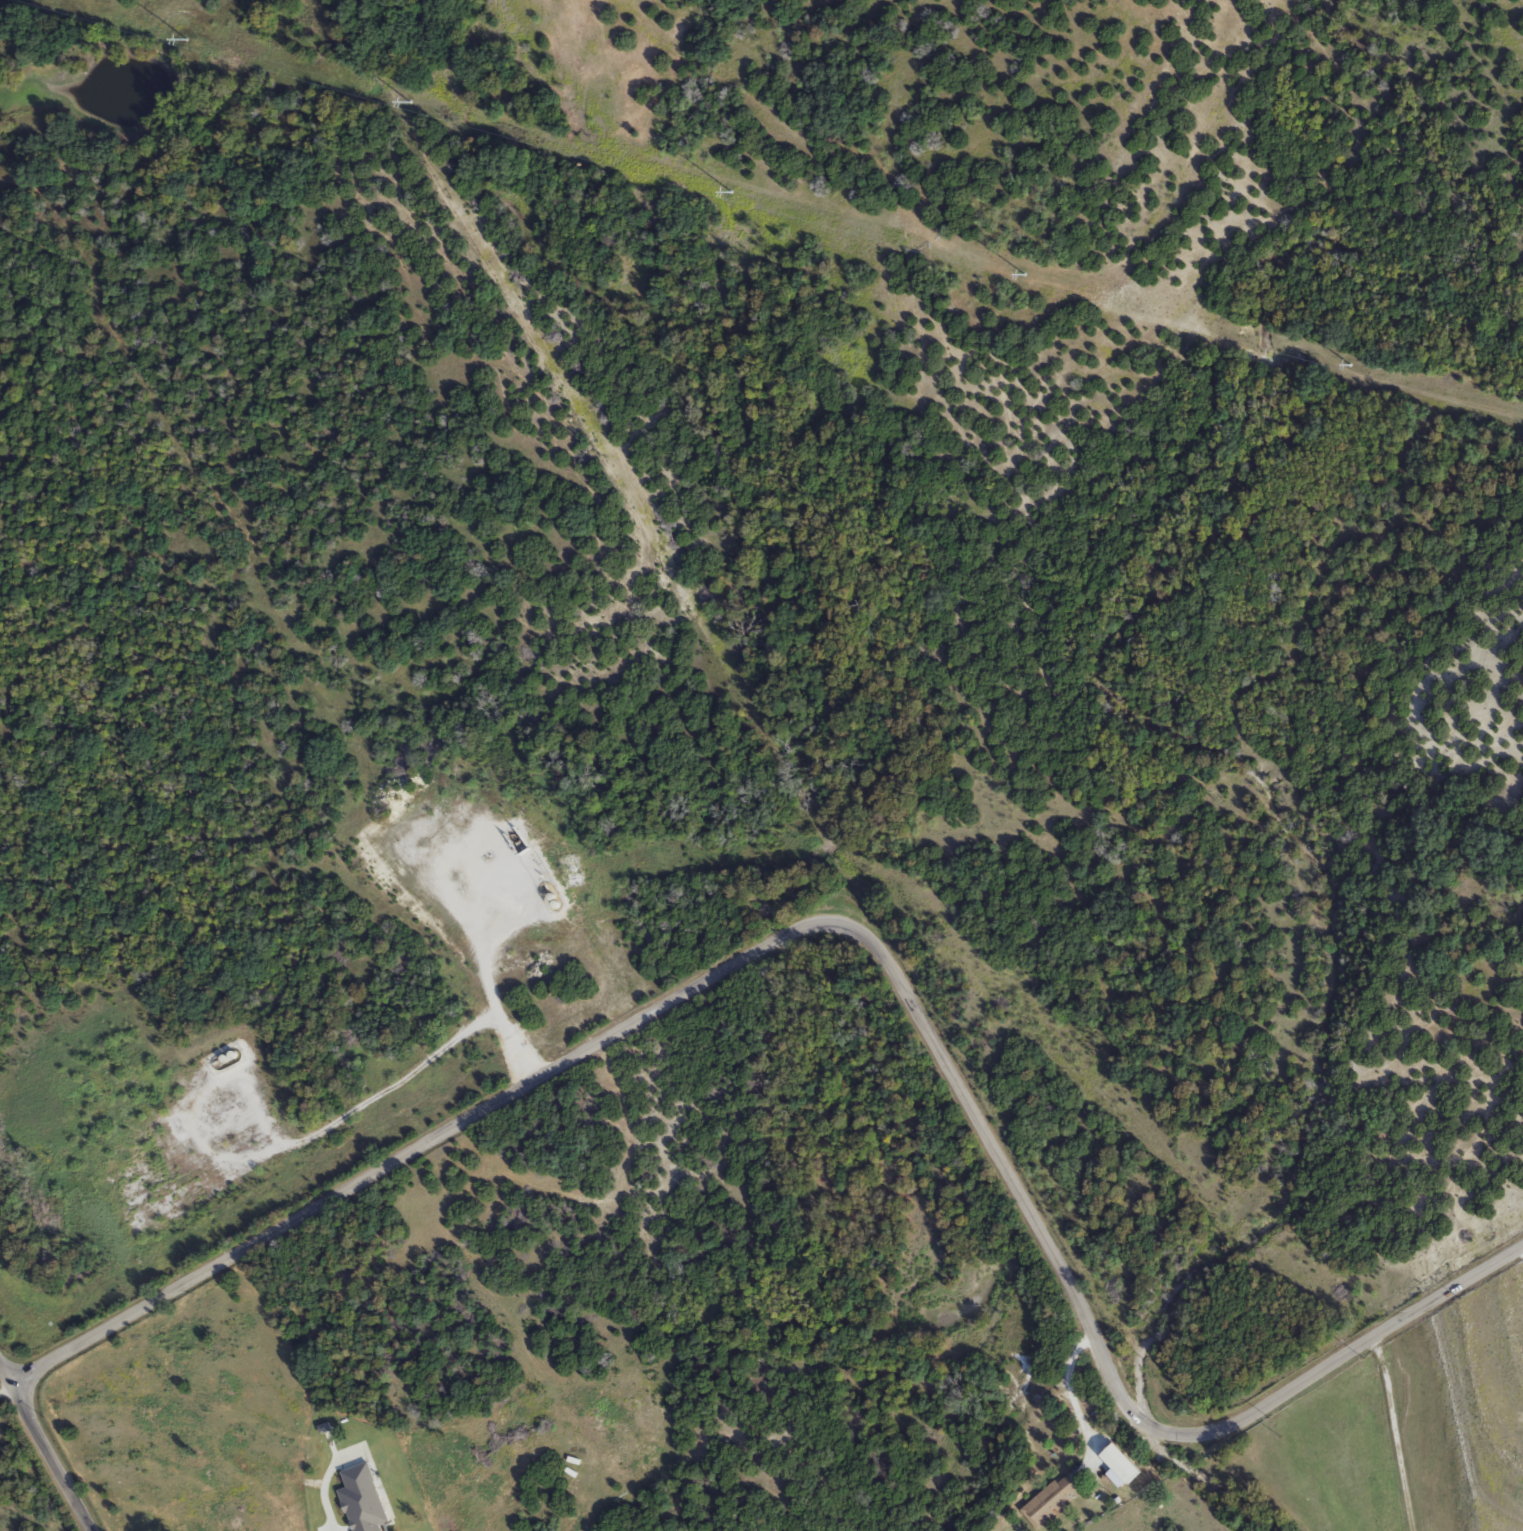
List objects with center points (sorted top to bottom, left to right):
road: (869, 942)
road: (5, 1376)
road: (5, 1387)
road: (1077, 1400)
road: (1394, 1433)
road: (50, 1457)
building: (1055, 1502)

